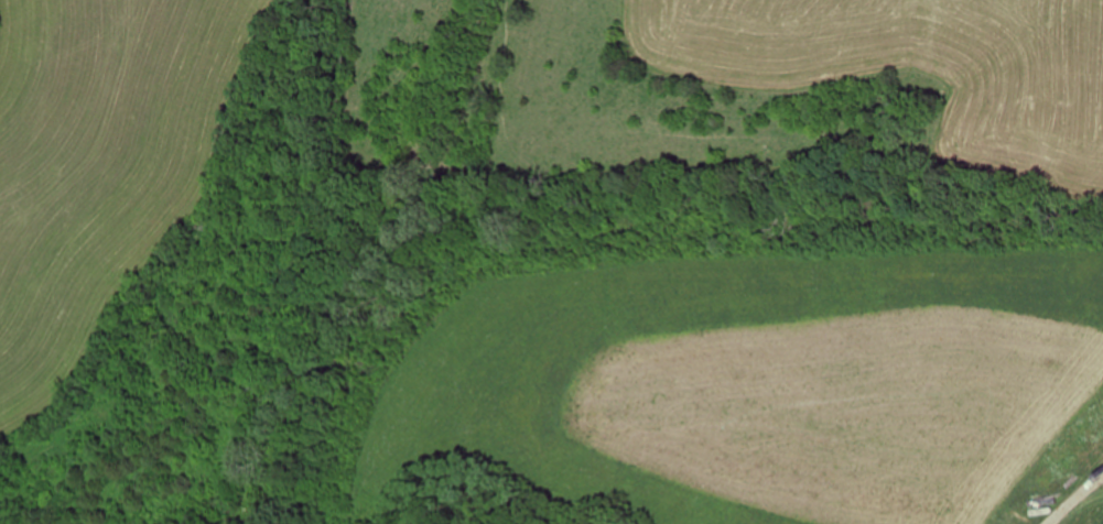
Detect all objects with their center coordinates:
road: (291, 272)
road: (1059, 468)

